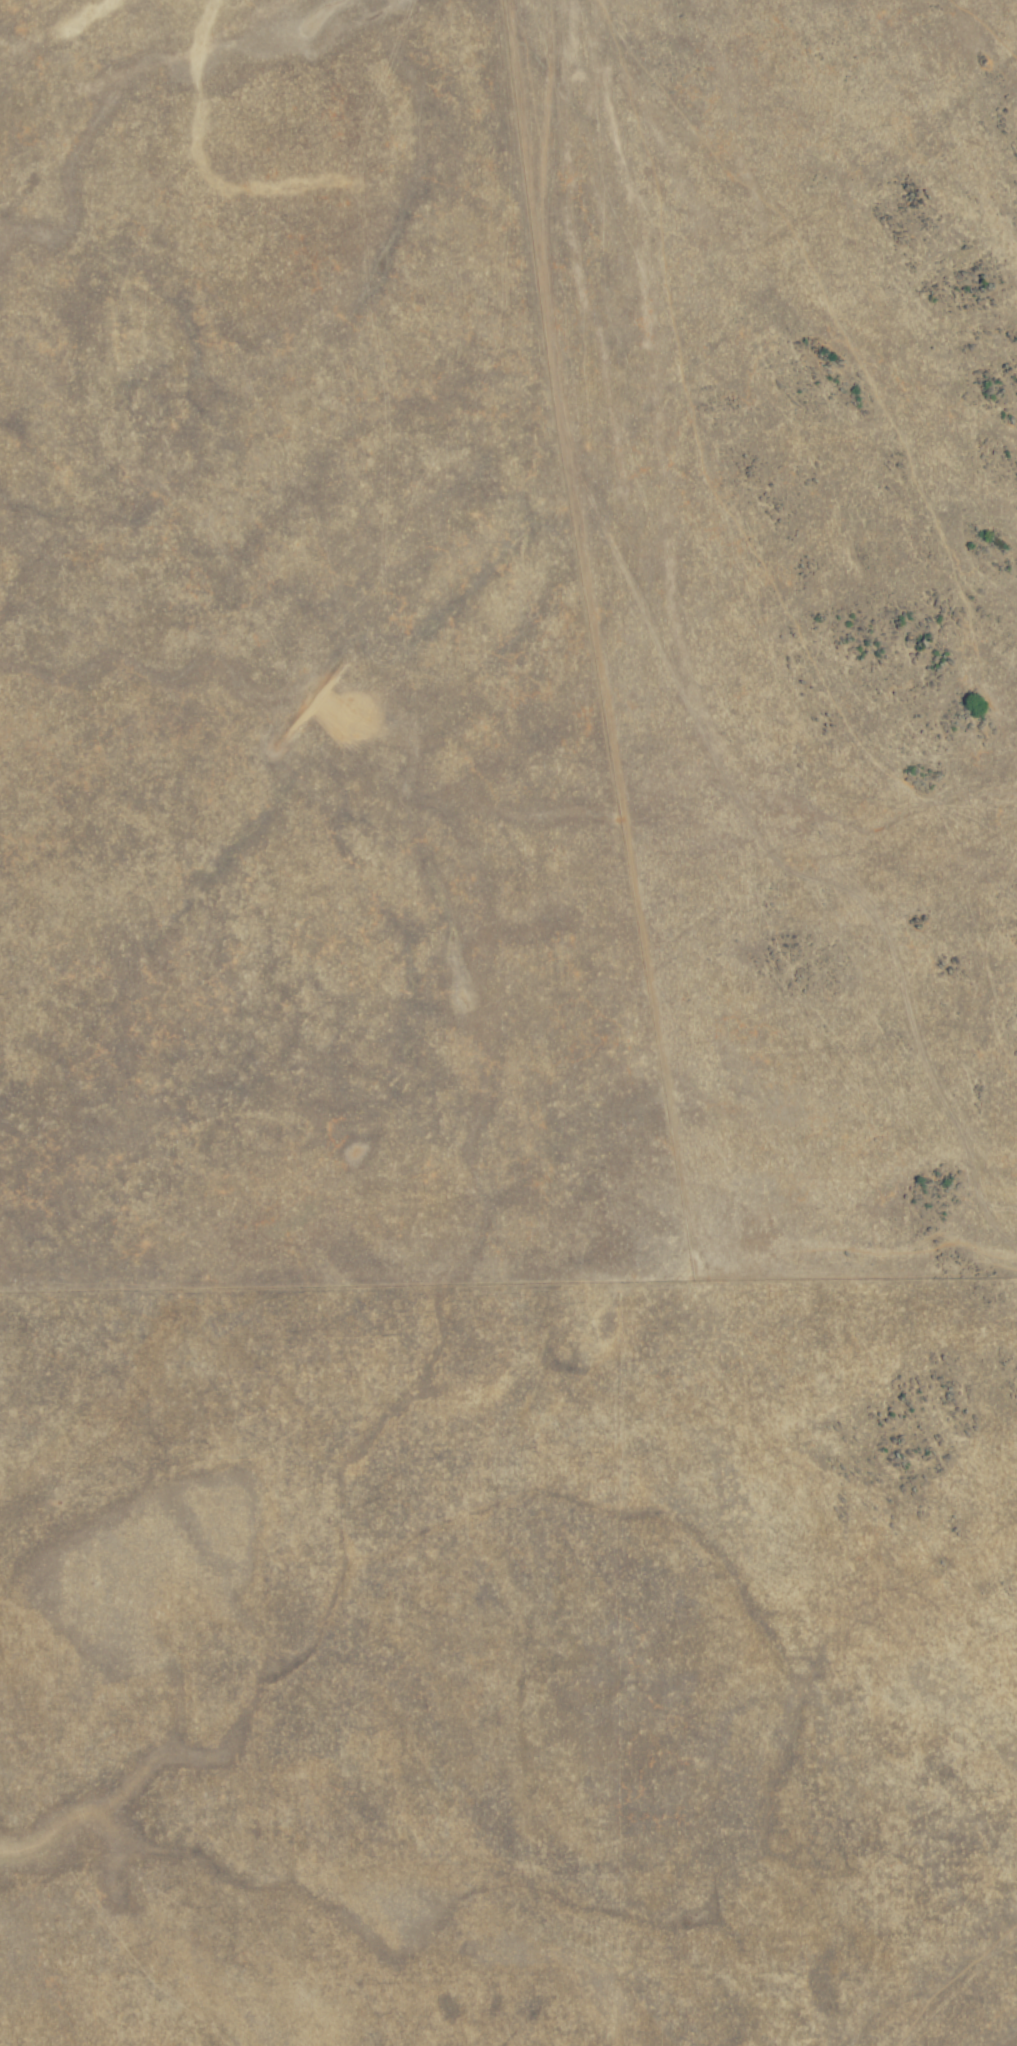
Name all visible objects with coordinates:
road: (670, 660)

